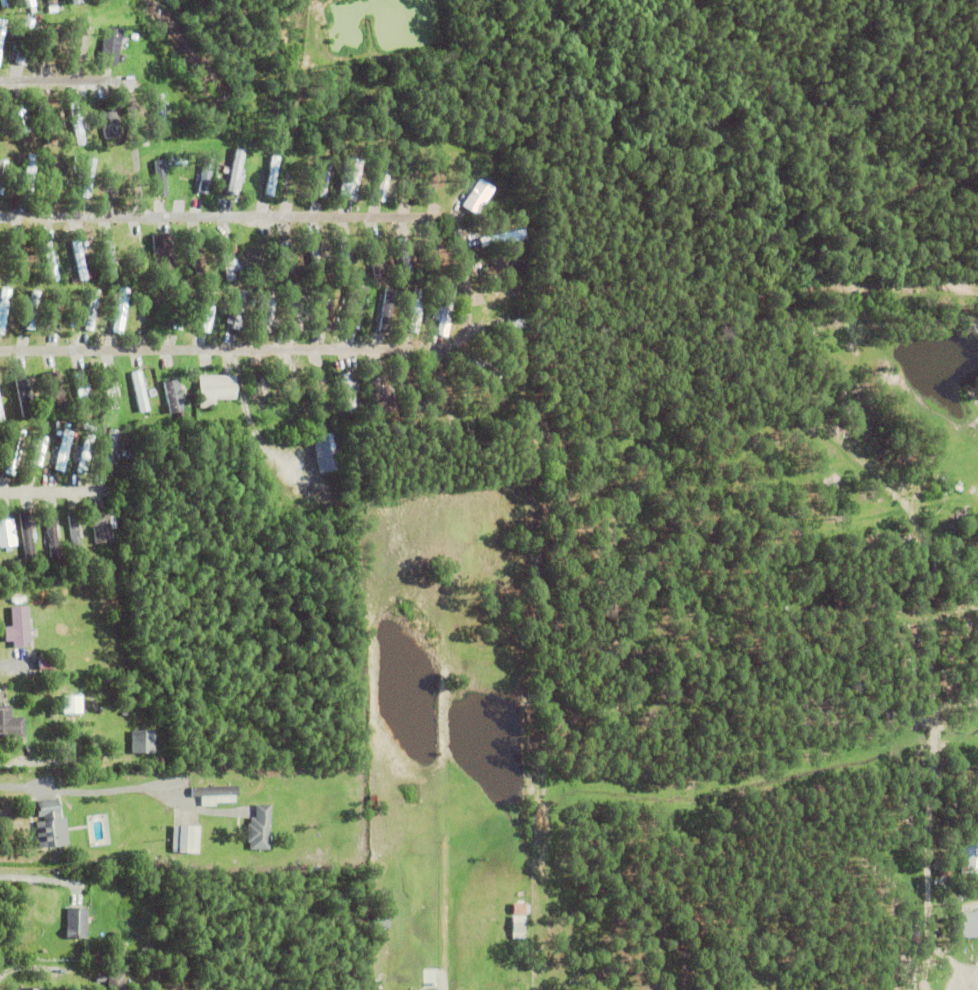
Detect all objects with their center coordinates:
building: (75, 0)
building: (51, 1)
building: (5, 2)
building: (29, 3)
building: (52, 8)
building: (2, 31)
building: (85, 41)
building: (25, 42)
building: (112, 46)
road: (125, 89)
building: (160, 109)
building: (19, 118)
building: (76, 121)
building: (110, 123)
building: (47, 124)
building: (0, 132)
building: (60, 143)
building: (19, 158)
building: (180, 162)
building: (235, 171)
building: (2, 173)
building: (272, 175)
building: (87, 176)
building: (294, 176)
building: (351, 176)
building: (27, 177)
building: (413, 177)
building: (443, 177)
building: (58, 178)
building: (324, 178)
building: (117, 180)
building: (205, 180)
building: (384, 180)
building: (478, 196)
building: (16, 229)
building: (501, 237)
building: (119, 253)
building: (436, 253)
building: (286, 254)
building: (168, 256)
building: (344, 256)
building: (228, 258)
building: (316, 258)
building: (406, 258)
building: (23, 259)
building: (197, 259)
building: (50, 260)
building: (79, 260)
building: (138, 260)
building: (504, 267)
road: (467, 284)
building: (504, 296)
building: (91, 309)
building: (180, 309)
building: (268, 309)
building: (297, 309)
building: (32, 310)
building: (122, 310)
building: (209, 310)
building: (237, 310)
building: (415, 310)
building: (445, 310)
building: (524, 310)
building: (55, 311)
building: (386, 311)
building: (2, 314)
building: (324, 314)
building: (436, 315)
building: (506, 326)
building: (490, 374)
building: (216, 389)
building: (260, 389)
building: (440, 389)
building: (140, 391)
building: (348, 391)
building: (56, 392)
building: (22, 393)
building: (290, 393)
building: (319, 393)
building: (382, 393)
building: (408, 393)
building: (111, 394)
building: (82, 395)
building: (174, 396)
building: (1, 414)
building: (264, 414)
building: (103, 430)
building: (63, 448)
building: (109, 449)
building: (39, 450)
building: (328, 451)
building: (14, 452)
building: (85, 453)
road: (58, 491)
building: (6, 533)
building: (98, 534)
building: (26, 535)
building: (74, 535)
building: (50, 536)
building: (18, 628)
building: (45, 664)
building: (72, 704)
building: (10, 724)
building: (142, 742)
road: (68, 791)
building: (217, 793)
building: (373, 801)
building: (50, 825)
building: (262, 827)
building: (185, 839)
building: (968, 857)
building: (944, 874)
building: (520, 908)
building: (381, 920)
building: (76, 923)
building: (969, 926)
building: (518, 928)
building: (115, 982)
building: (28, 989)
building: (410, 989)

